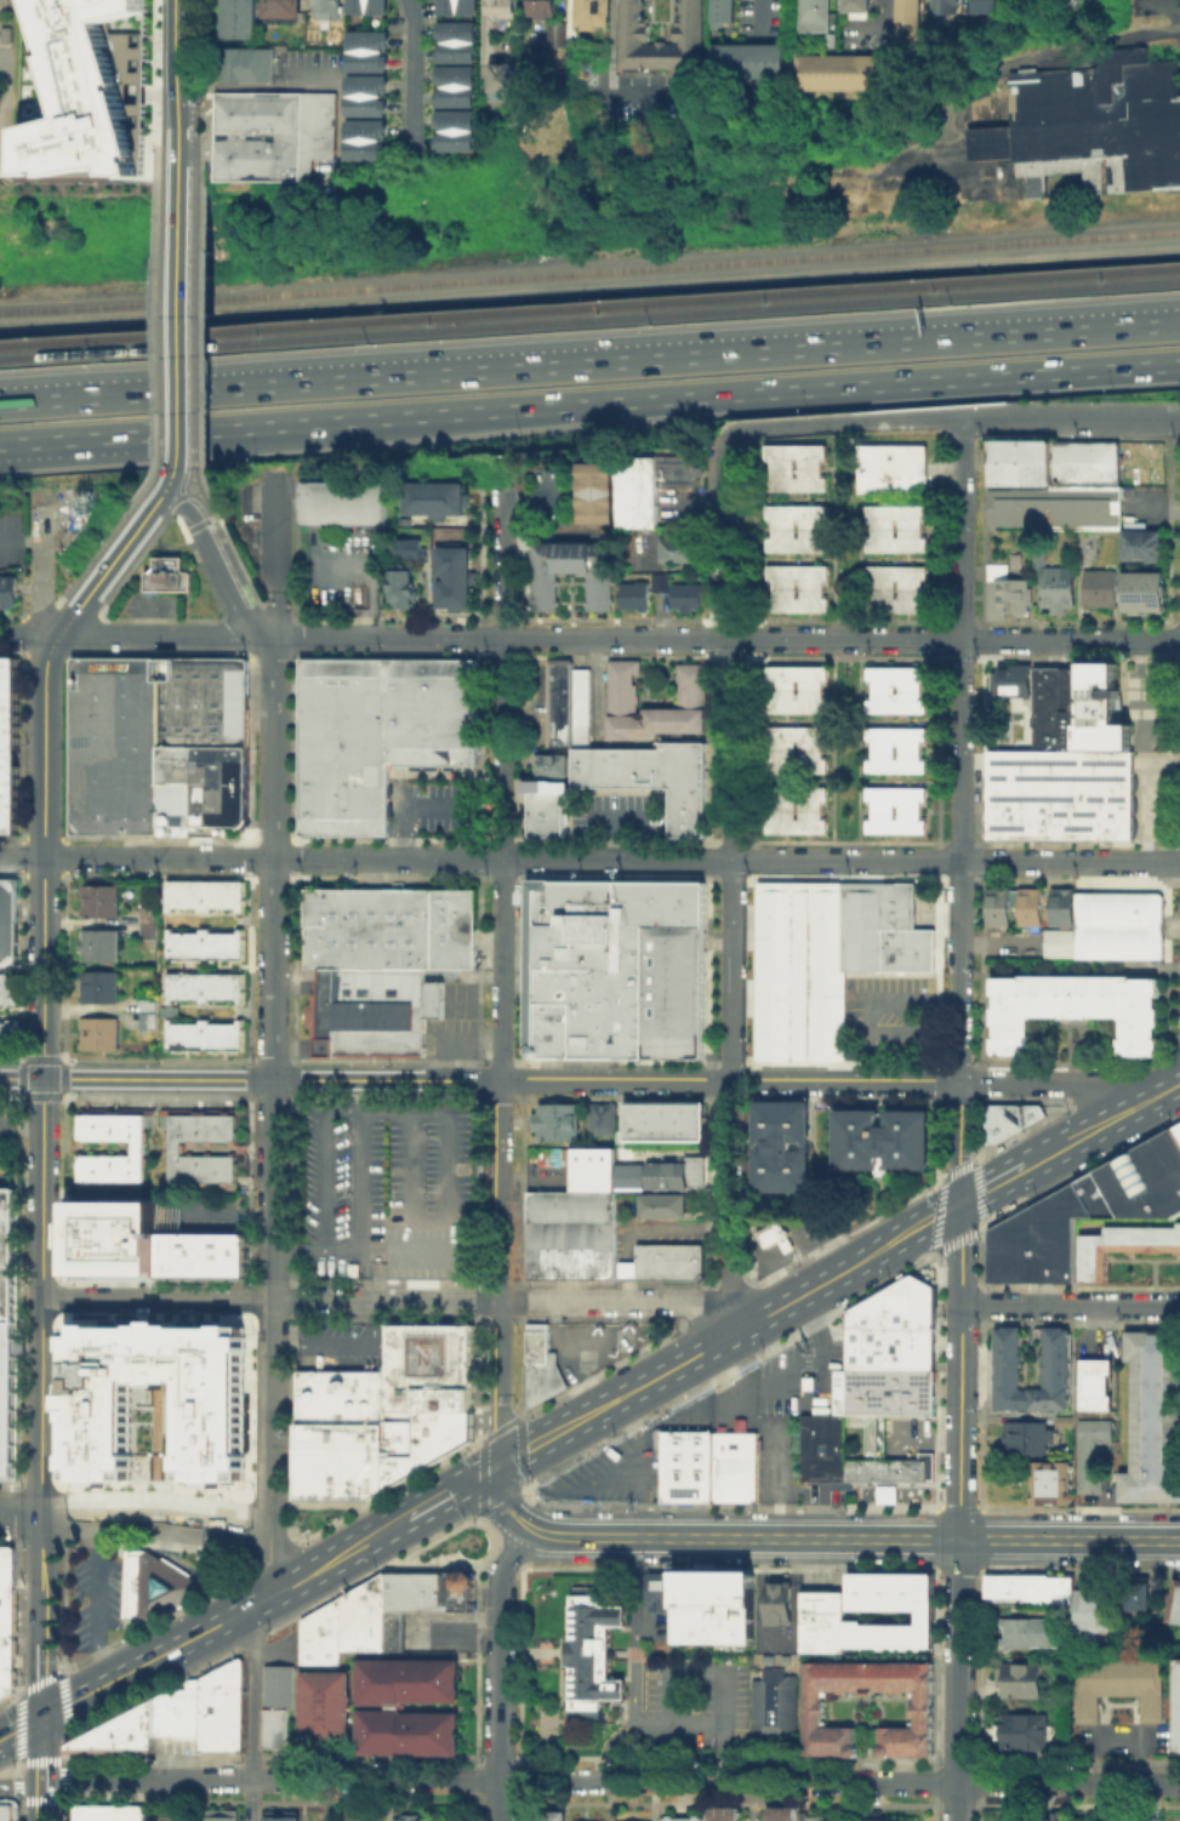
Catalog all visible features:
building: (1078, 2)
building: (4, 5)
building: (998, 5)
building: (868, 6)
building: (958, 6)
building: (364, 8)
building: (455, 8)
building: (502, 10)
building: (542, 10)
building: (277, 11)
building: (324, 11)
road: (766, 13)
building: (593, 15)
building: (723, 15)
building: (816, 16)
building: (233, 21)
building: (692, 22)
building: (920, 23)
road: (888, 24)
building: (973, 28)
building: (6, 34)
road: (627, 36)
building: (566, 38)
building: (455, 45)
building: (364, 51)
building: (763, 62)
building: (240, 68)
building: (853, 74)
building: (508, 78)
road: (418, 79)
road: (258, 86)
road: (154, 89)
road: (193, 89)
building: (80, 90)
road: (176, 90)
building: (455, 90)
building: (365, 97)
building: (1089, 125)
building: (268, 130)
building: (455, 133)
building: (366, 144)
building: (331, 173)
railway: (589, 269)
road: (589, 285)
railway: (589, 303)
railway: (589, 316)
road: (175, 324)
road: (192, 329)
road: (199, 336)
road: (153, 339)
road: (589, 361)
road: (811, 388)
road: (1071, 416)
road: (290, 422)
road: (846, 423)
road: (69, 436)
road: (69, 441)
building: (1022, 463)
building: (1085, 463)
building: (896, 474)
building: (799, 475)
road: (165, 481)
road: (196, 481)
building: (652, 487)
road: (196, 492)
road: (171, 493)
building: (598, 496)
building: (435, 498)
building: (341, 502)
building: (1056, 507)
road: (215, 514)
road: (199, 521)
road: (963, 529)
road: (183, 530)
building: (899, 533)
building: (799, 535)
road: (728, 537)
road: (21, 540)
road: (167, 544)
building: (409, 547)
building: (1140, 548)
road: (233, 549)
road: (93, 550)
building: (682, 552)
road: (279, 554)
road: (217, 563)
road: (505, 564)
road: (41, 565)
road: (107, 565)
road: (233, 566)
building: (169, 575)
building: (455, 577)
road: (370, 584)
building: (401, 584)
building: (1056, 588)
building: (1099, 589)
building: (1011, 590)
building: (1142, 590)
building: (548, 592)
building: (900, 594)
building: (800, 595)
building: (684, 596)
building: (8, 598)
building: (638, 598)
road: (40, 610)
road: (275, 612)
road: (98, 613)
road: (221, 617)
road: (155, 618)
road: (19, 633)
road: (234, 633)
road: (28, 637)
road: (165, 637)
road: (726, 638)
road: (69, 649)
road: (12, 651)
building: (1009, 680)
building: (623, 685)
building: (798, 687)
building: (897, 690)
building: (569, 706)
building: (1053, 709)
building: (1101, 712)
building: (380, 740)
parking lot: (1145, 743)
road: (19, 744)
building: (796, 748)
building: (897, 748)
building: (8, 749)
building: (118, 749)
building: (205, 749)
road: (1145, 750)
road: (1163, 760)
building: (551, 765)
building: (652, 778)
building: (1059, 795)
building: (797, 807)
building: (897, 811)
building: (546, 816)
road: (12, 837)
road: (41, 855)
road: (502, 857)
road: (589, 858)
road: (962, 860)
building: (204, 892)
building: (101, 903)
building: (992, 903)
building: (1025, 903)
building: (1058, 904)
building: (147, 921)
building: (8, 924)
building: (1116, 924)
building: (880, 927)
building: (392, 929)
building: (1058, 942)
building: (203, 944)
building: (99, 947)
building: (609, 966)
building: (797, 969)
building: (203, 986)
building: (7, 987)
road: (729, 987)
building: (99, 988)
building: (1071, 1007)
building: (146, 1011)
building: (376, 1012)
parking lot: (885, 1012)
building: (203, 1034)
building: (7, 1035)
building: (99, 1035)
traffic signals: (44, 1078)
road: (251, 1079)
road: (730, 1079)
road: (1043, 1081)
road: (272, 1114)
building: (595, 1118)
building: (1005, 1118)
building: (551, 1120)
building: (656, 1120)
road: (1104, 1121)
building: (1176, 1131)
road: (329, 1134)
building: (874, 1138)
road: (959, 1141)
parking lot: (8, 1142)
building: (775, 1147)
building: (178, 1149)
building: (139, 1151)
building: (586, 1170)
building: (657, 1170)
building: (1144, 1178)
parking lot: (377, 1180)
road: (993, 1182)
traffic signals: (960, 1201)
building: (657, 1206)
road: (452, 1218)
road: (364, 1223)
building: (1042, 1233)
building: (773, 1235)
building: (565, 1237)
building: (118, 1240)
building: (1121, 1245)
building: (199, 1251)
building: (428, 1254)
building: (665, 1260)
road: (501, 1271)
road: (156, 1300)
road: (507, 1302)
road: (1071, 1305)
building: (6, 1331)
road: (551, 1331)
road: (732, 1335)
road: (552, 1342)
parking lot: (338, 1346)
parking lot: (588, 1346)
road: (558, 1351)
building: (888, 1351)
building: (1058, 1357)
helipad: (421, 1358)
road: (41, 1359)
building: (538, 1364)
road: (959, 1374)
building: (1098, 1386)
building: (95, 1402)
building: (382, 1414)
building: (1155, 1418)
parking lot: (726, 1422)
building: (1066, 1422)
parking lot: (906, 1434)
building: (1028, 1439)
building: (817, 1448)
building: (1093, 1454)
traffic signals: (502, 1462)
building: (683, 1465)
building: (732, 1465)
building: (887, 1468)
building: (1054, 1484)
road: (454, 1489)
road: (505, 1497)
road: (957, 1505)
road: (135, 1514)
road: (957, 1528)
road: (935, 1536)
road: (979, 1536)
road: (700, 1537)
road: (1108, 1540)
road: (957, 1547)
road: (957, 1569)
building: (159, 1585)
building: (1030, 1587)
building: (657, 1591)
parking lot: (103, 1593)
building: (431, 1597)
building: (1140, 1598)
building: (1175, 1604)
building: (712, 1605)
building: (781, 1605)
building: (897, 1610)
building: (6, 1615)
building: (1098, 1616)
road: (226, 1621)
building: (366, 1621)
building: (825, 1625)
road: (457, 1626)
building: (1032, 1636)
building: (325, 1640)
building: (594, 1654)
road: (632, 1663)
road: (498, 1669)
road: (41, 1679)
road: (957, 1683)
building: (1025, 1683)
building: (1113, 1685)
building: (410, 1688)
building: (283, 1691)
road: (253, 1695)
building: (776, 1702)
parking lot: (688, 1705)
building: (1176, 1706)
building: (925, 1707)
building: (209, 1709)
traffic signals: (41, 1718)
building: (329, 1718)
road: (703, 1719)
road: (19, 1729)
building: (1026, 1732)
building: (126, 1734)
building: (279, 1734)
parking lot: (1113, 1740)
building: (410, 1741)
road: (41, 1751)
road: (610, 1781)
road: (21, 1786)
road: (177, 1800)
road: (251, 1800)
road: (40, 1802)
building: (6, 1811)
building: (108, 1811)
parking lot: (176, 1811)
building: (724, 1813)
building: (782, 1814)
building: (222, 1815)
building: (358, 1815)
building: (549, 1815)
building: (281, 1816)
building: (409, 1817)
building: (823, 1817)
building: (684, 1819)
building: (889, 1819)
building: (1030, 1819)
building: (1102, 1819)
building: (570, 1820)

